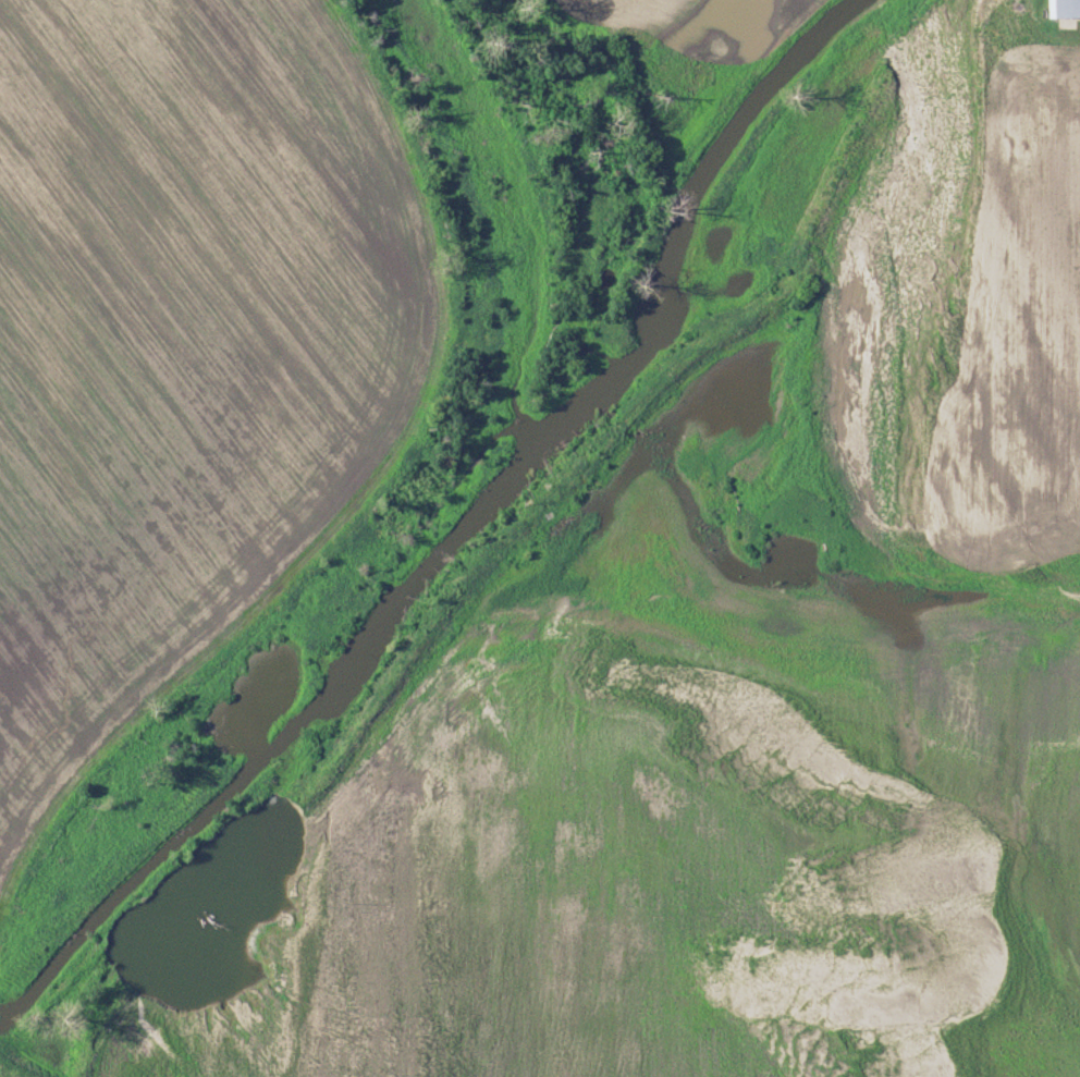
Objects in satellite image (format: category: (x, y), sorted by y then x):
building: (1064, 10)

